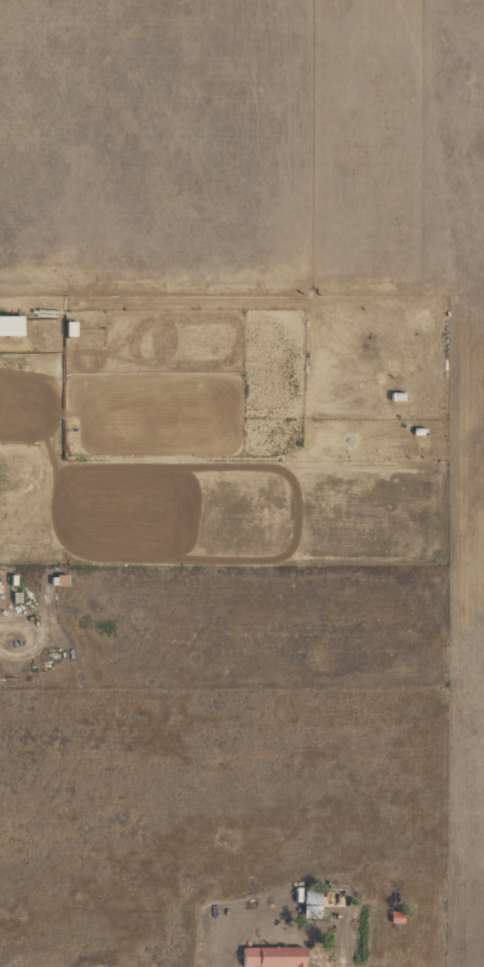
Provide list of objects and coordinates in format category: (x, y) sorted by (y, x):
building: (8, 325)
building: (68, 329)
building: (309, 903)
building: (270, 957)

